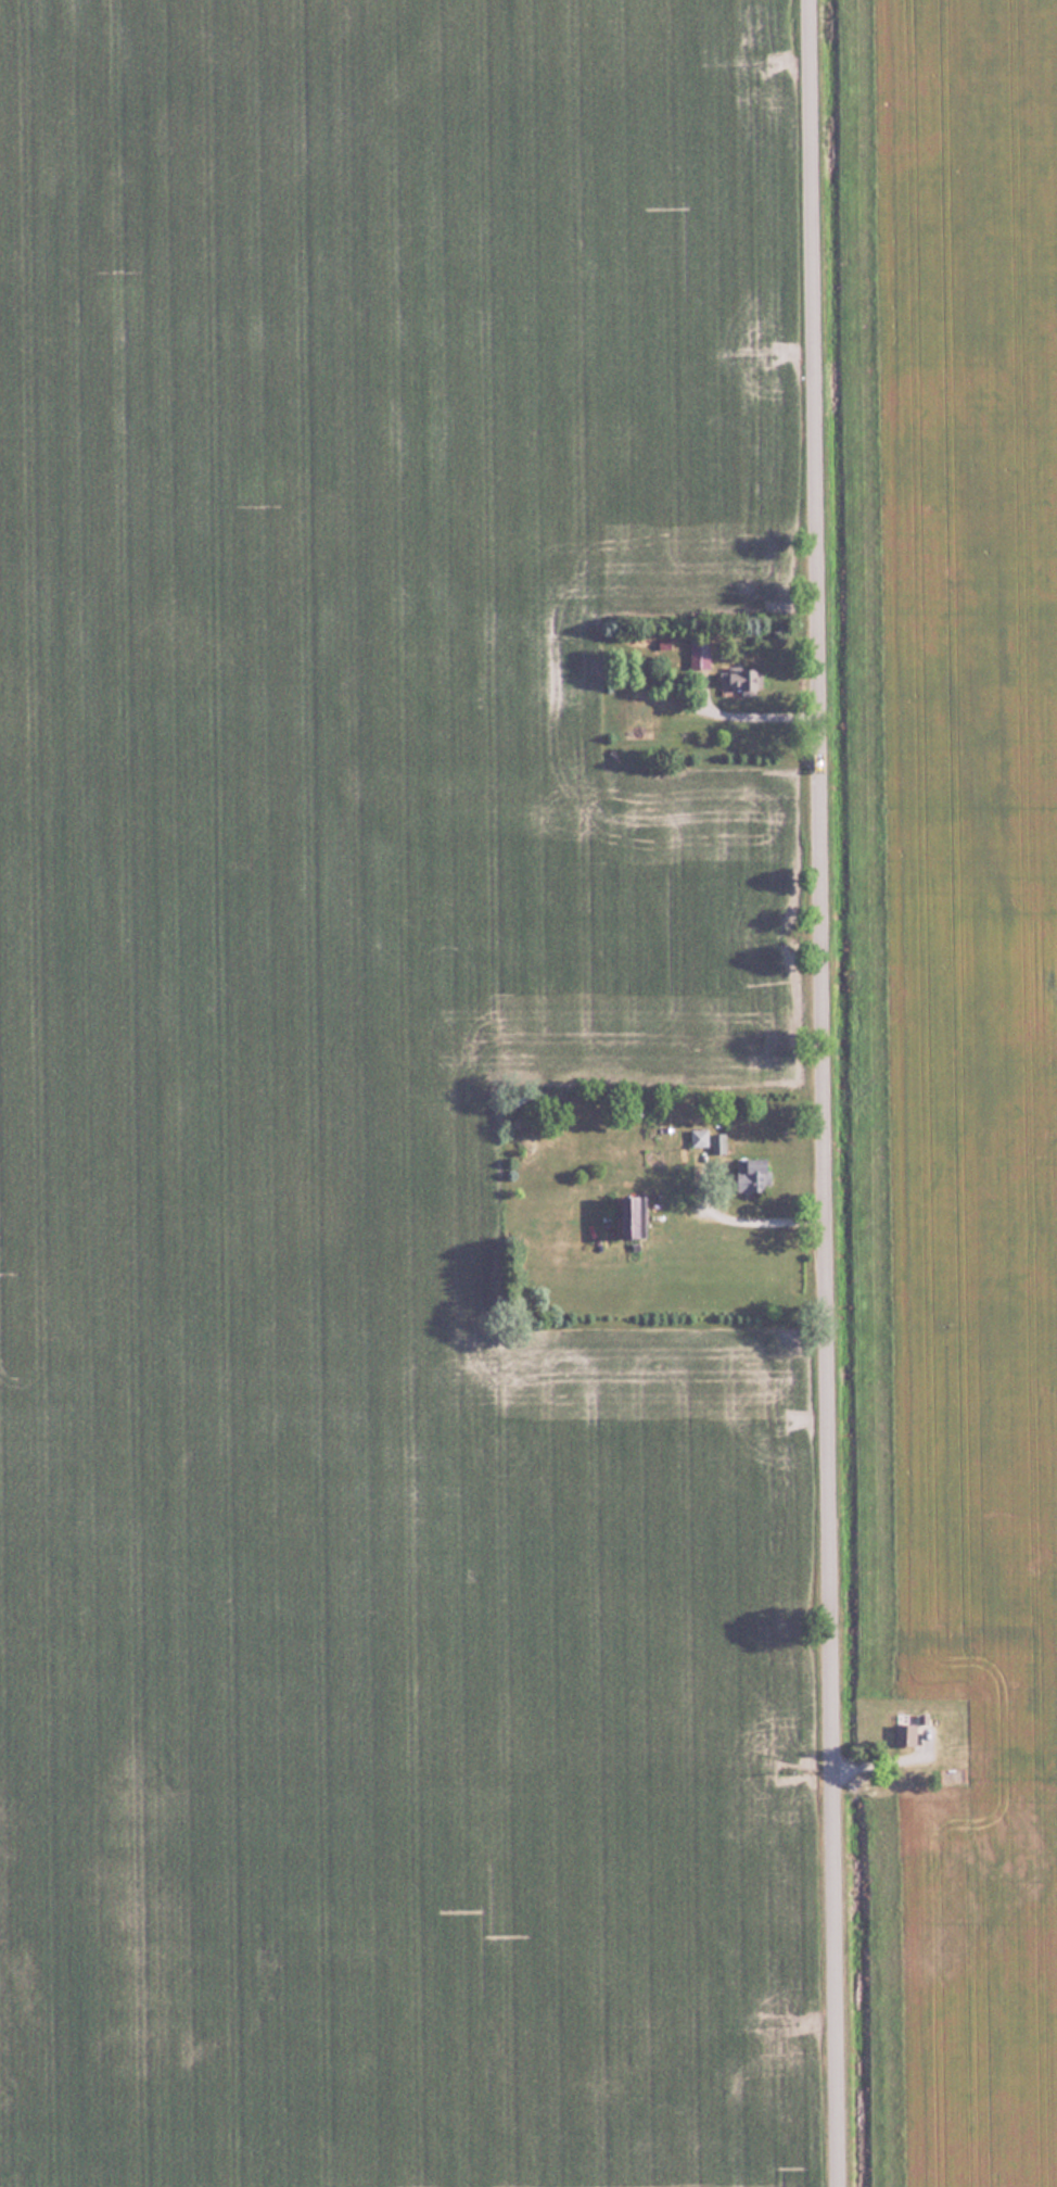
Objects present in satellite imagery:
building: (699, 654)
building: (743, 679)
road: (826, 1092)
building: (754, 1175)
building: (637, 1218)
building: (906, 1735)

